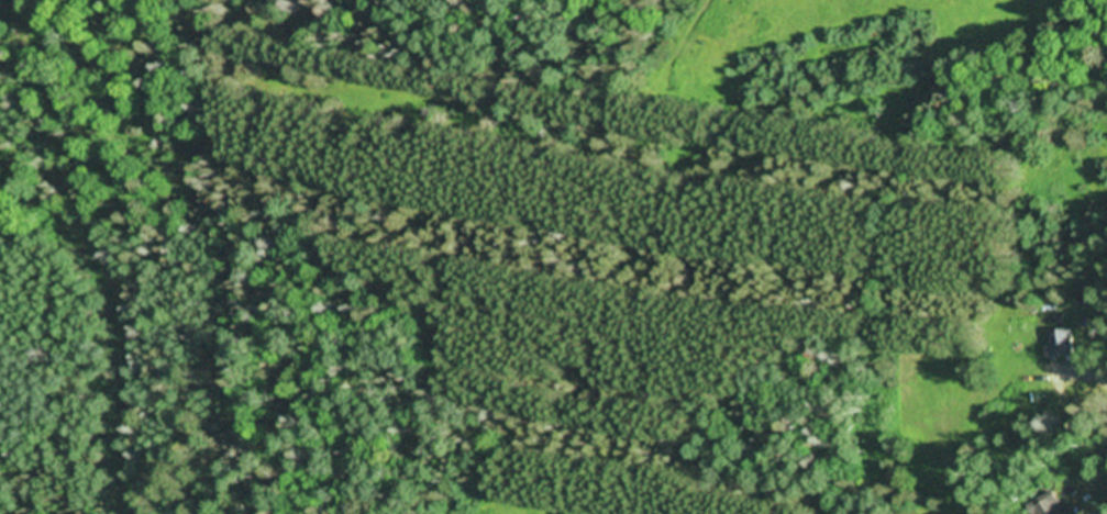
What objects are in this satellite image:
road: (1030, 457)
building: (1050, 509)

